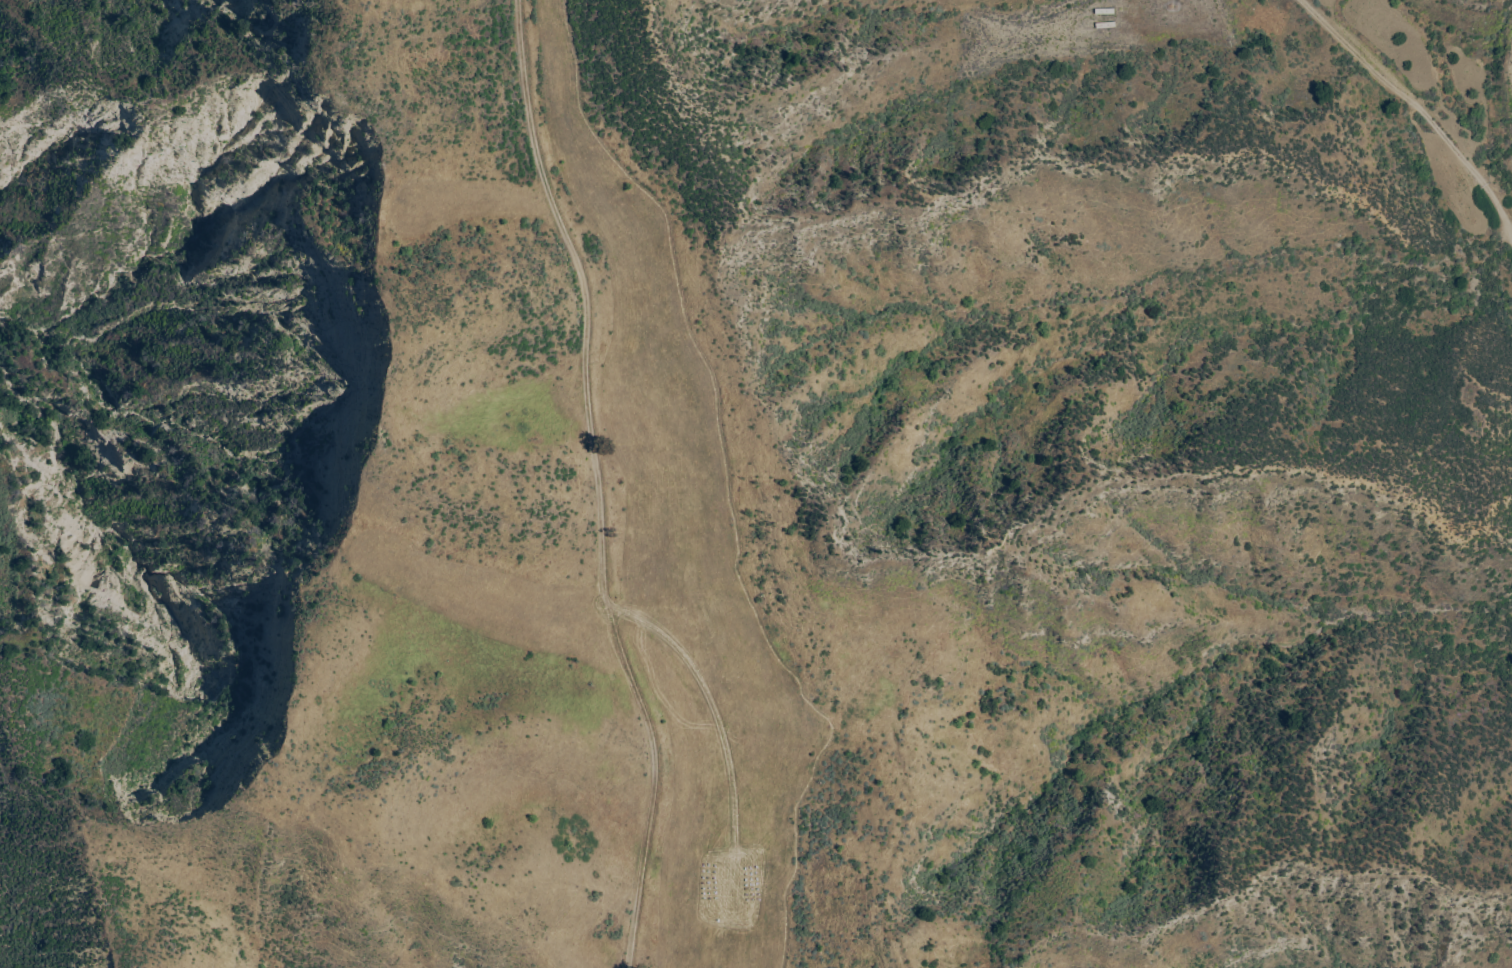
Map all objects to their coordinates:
road: (1415, 111)
road: (594, 483)

